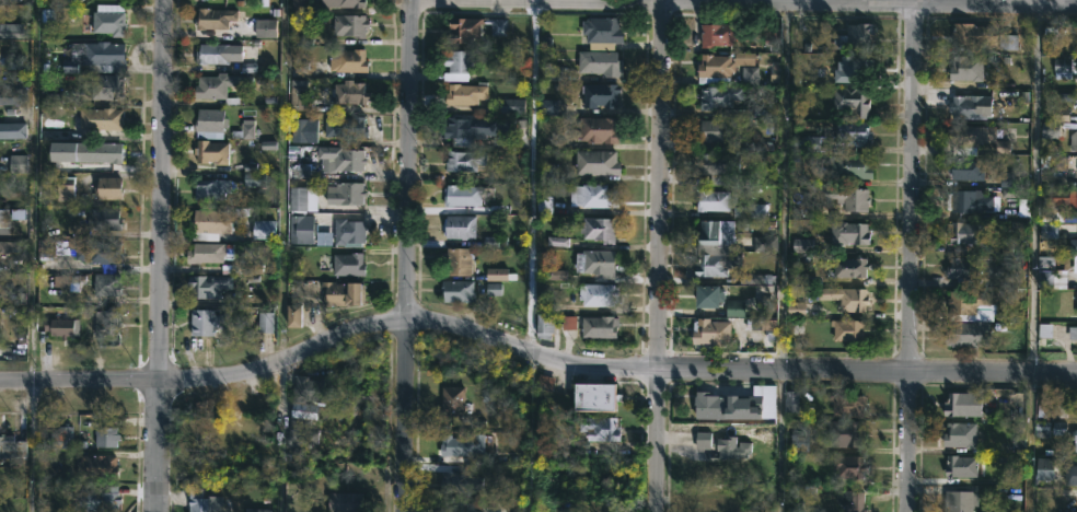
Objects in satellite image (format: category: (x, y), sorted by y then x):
building: (109, 0)
road: (537, 2)
road: (813, 2)
road: (948, 2)
road: (1041, 2)
building: (348, 4)
road: (744, 4)
building: (213, 18)
building: (107, 19)
building: (348, 27)
building: (473, 27)
building: (601, 32)
building: (1050, 32)
building: (722, 33)
building: (772, 37)
building: (854, 37)
building: (983, 37)
building: (211, 53)
building: (95, 57)
building: (347, 60)
building: (600, 62)
building: (717, 63)
building: (456, 65)
building: (966, 68)
building: (1062, 68)
building: (846, 69)
building: (750, 73)
building: (106, 86)
building: (217, 86)
building: (350, 92)
building: (461, 93)
building: (298, 94)
building: (1068, 94)
building: (599, 95)
building: (717, 96)
building: (852, 101)
building: (971, 106)
building: (102, 118)
building: (209, 124)
building: (324, 127)
building: (467, 128)
building: (710, 129)
building: (594, 130)
building: (1050, 130)
building: (834, 138)
building: (978, 138)
building: (1074, 139)
building: (100, 151)
building: (210, 152)
building: (341, 158)
building: (463, 160)
building: (595, 162)
building: (1062, 163)
building: (849, 166)
building: (721, 168)
building: (964, 168)
building: (1006, 179)
road: (530, 181)
building: (65, 187)
building: (106, 188)
building: (211, 188)
building: (345, 193)
building: (1009, 193)
building: (460, 194)
building: (594, 196)
building: (301, 198)
building: (849, 198)
building: (715, 200)
building: (968, 201)
building: (1023, 208)
building: (749, 211)
building: (102, 218)
building: (212, 220)
building: (3, 221)
building: (459, 225)
building: (300, 229)
building: (598, 229)
building: (716, 231)
building: (348, 232)
building: (848, 233)
building: (965, 233)
building: (764, 244)
building: (799, 245)
building: (1075, 245)
building: (92, 251)
building: (2, 253)
building: (208, 253)
road: (33, 255)
road: (406, 255)
road: (159, 256)
road: (282, 256)
road: (658, 256)
road: (779, 257)
road: (911, 258)
road: (1032, 258)
building: (458, 261)
building: (595, 263)
building: (716, 264)
building: (1074, 264)
building: (347, 265)
building: (849, 267)
building: (963, 268)
building: (1001, 269)
building: (755, 279)
building: (105, 284)
building: (207, 286)
building: (458, 291)
building: (341, 293)
building: (597, 293)
building: (709, 295)
building: (847, 298)
building: (966, 301)
building: (764, 304)
building: (734, 309)
building: (797, 310)
building: (1076, 310)
building: (297, 317)
building: (205, 322)
building: (267, 323)
building: (569, 323)
building: (106, 325)
building: (60, 326)
building: (544, 326)
building: (600, 326)
building: (848, 330)
building: (710, 331)
building: (1072, 333)
building: (968, 334)
road: (529, 357)
building: (311, 389)
building: (594, 397)
building: (766, 399)
building: (451, 400)
building: (791, 402)
building: (963, 405)
building: (847, 406)
building: (726, 407)
building: (1041, 410)
building: (1059, 410)
building: (1049, 428)
building: (595, 430)
building: (300, 433)
building: (844, 433)
building: (961, 434)
building: (105, 437)
building: (62, 438)
building: (1075, 439)
building: (703, 440)
building: (799, 442)
building: (461, 445)
building: (11, 447)
building: (731, 447)
building: (960, 466)
building: (97, 467)
building: (848, 467)
building: (1045, 468)
building: (1076, 475)
building: (460, 484)
building: (107, 499)
building: (850, 500)
building: (961, 501)
building: (202, 502)
building: (344, 502)
building: (704, 505)
building: (456, 507)

